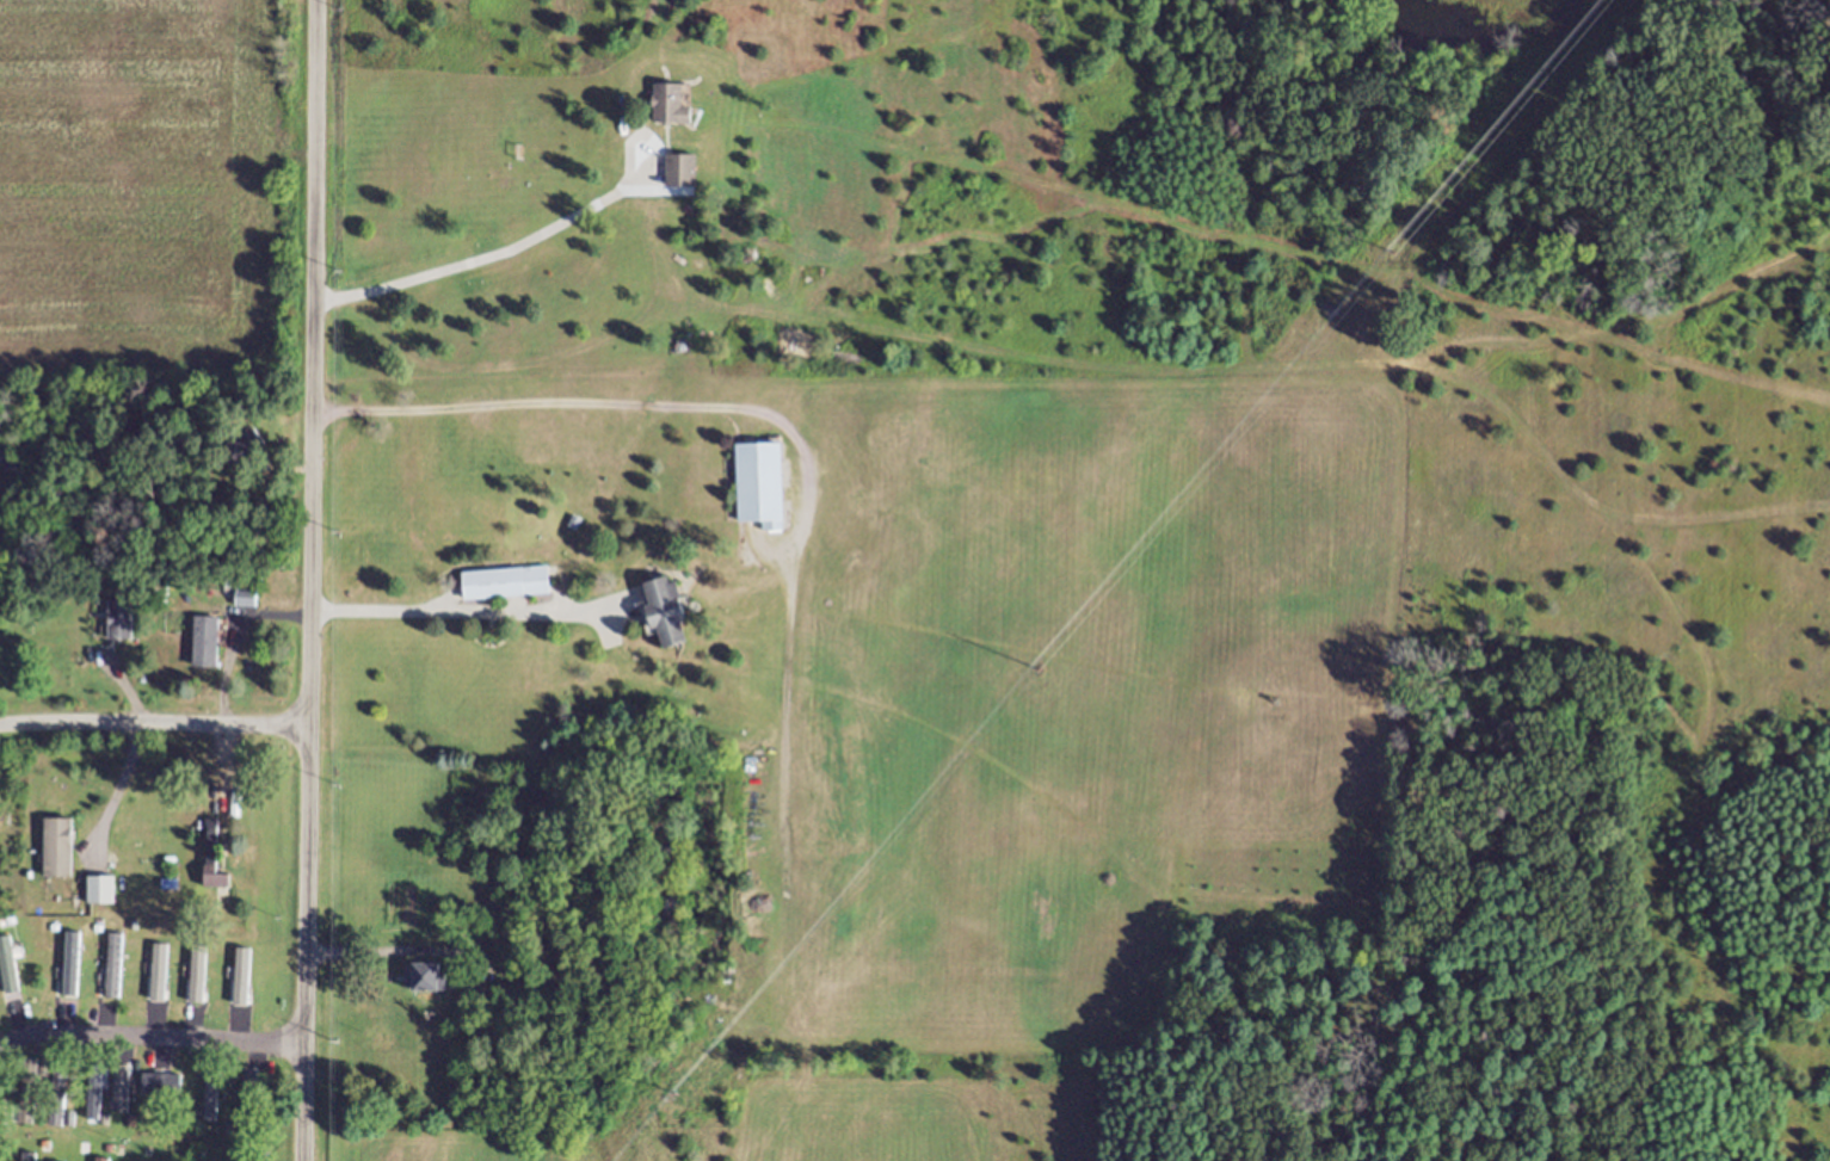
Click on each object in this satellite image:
building: (679, 109)
building: (688, 174)
crop: (142, 186)
road: (538, 239)
road: (556, 402)
building: (766, 483)
road: (314, 580)
building: (511, 586)
building: (252, 600)
road: (475, 611)
building: (672, 615)
building: (125, 623)
building: (211, 644)
road: (153, 724)
building: (63, 851)
building: (217, 872)
building: (106, 893)
building: (74, 967)
building: (432, 980)
building: (486, 998)
road: (149, 1039)
building: (61, 1076)
building: (170, 1091)
building: (216, 1093)
building: (255, 1097)
building: (63, 1118)

